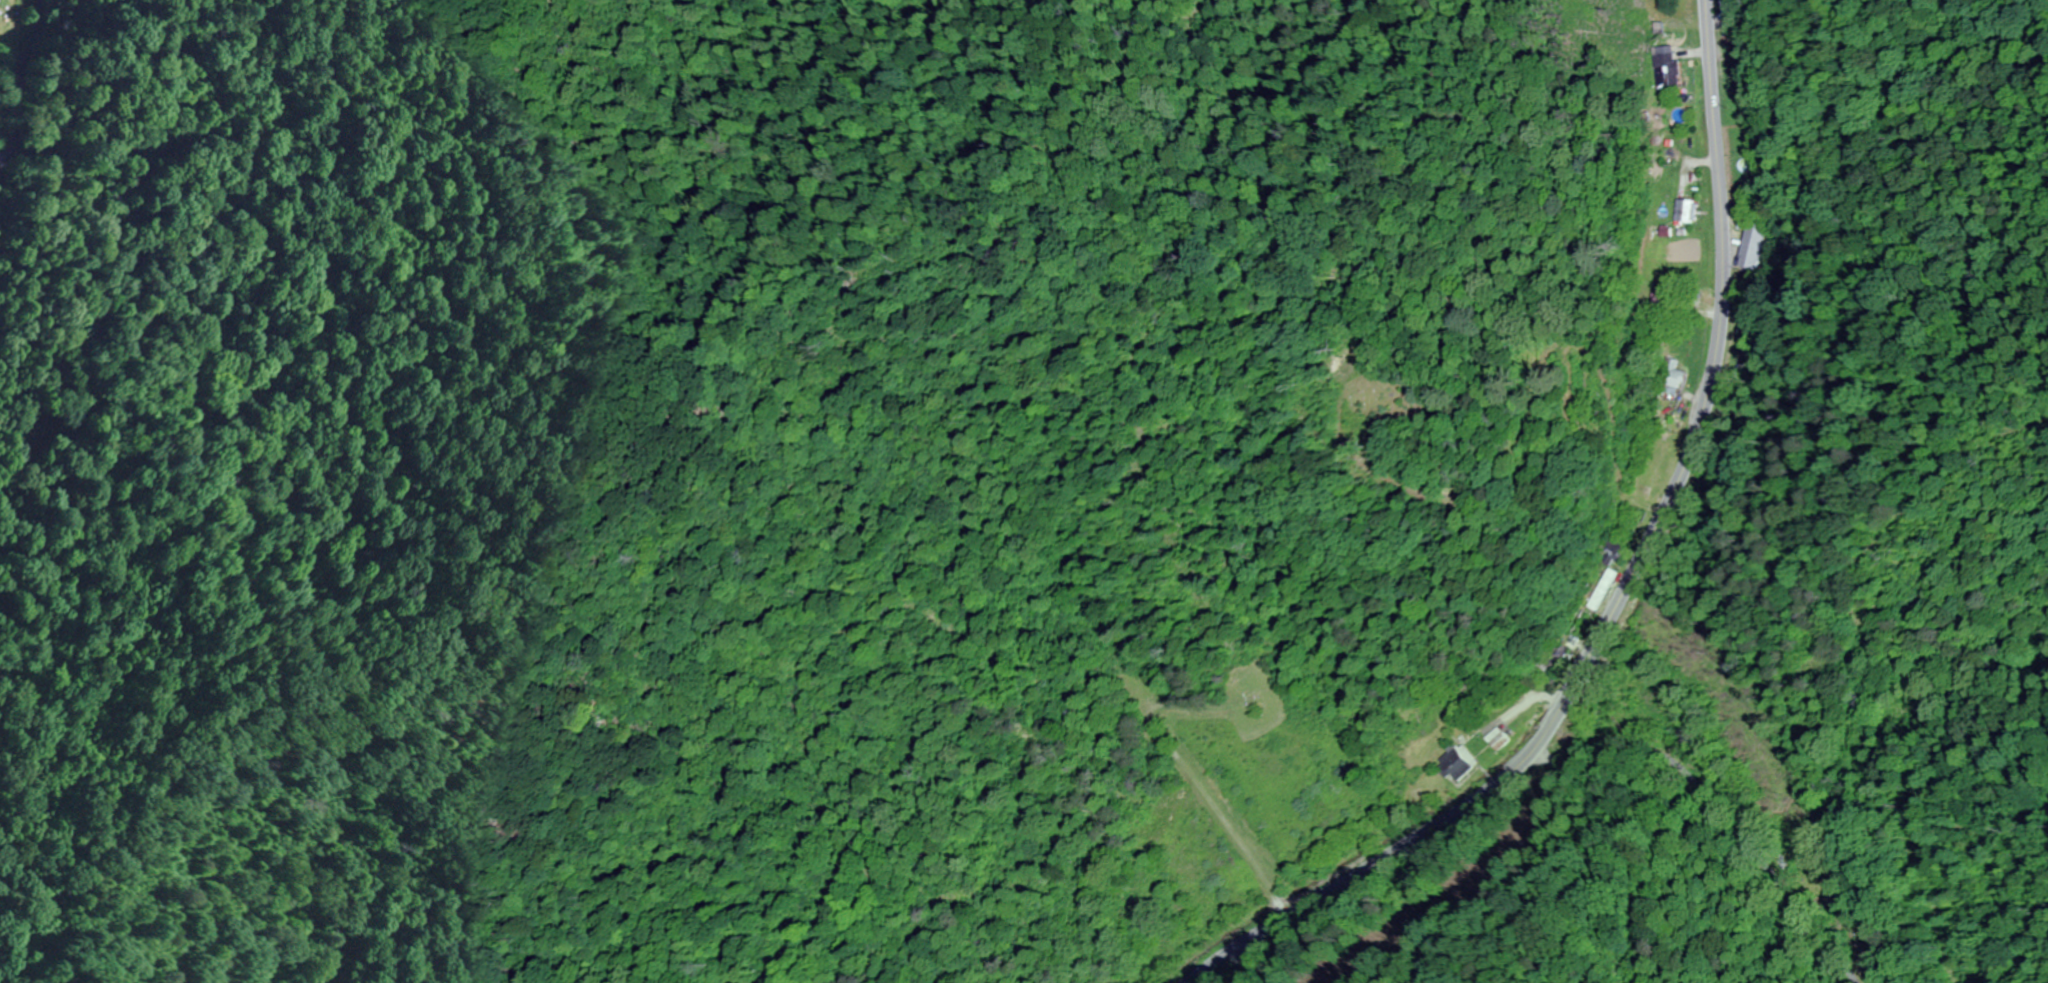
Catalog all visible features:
building: (1730, 18)
building: (1667, 67)
road: (21, 88)
building: (1689, 210)
building: (1754, 245)
park: (1432, 397)
road: (1710, 399)
building: (1668, 423)
building: (1476, 685)
building: (1456, 759)
road: (1218, 798)
road: (1727, 812)
road: (1366, 869)

